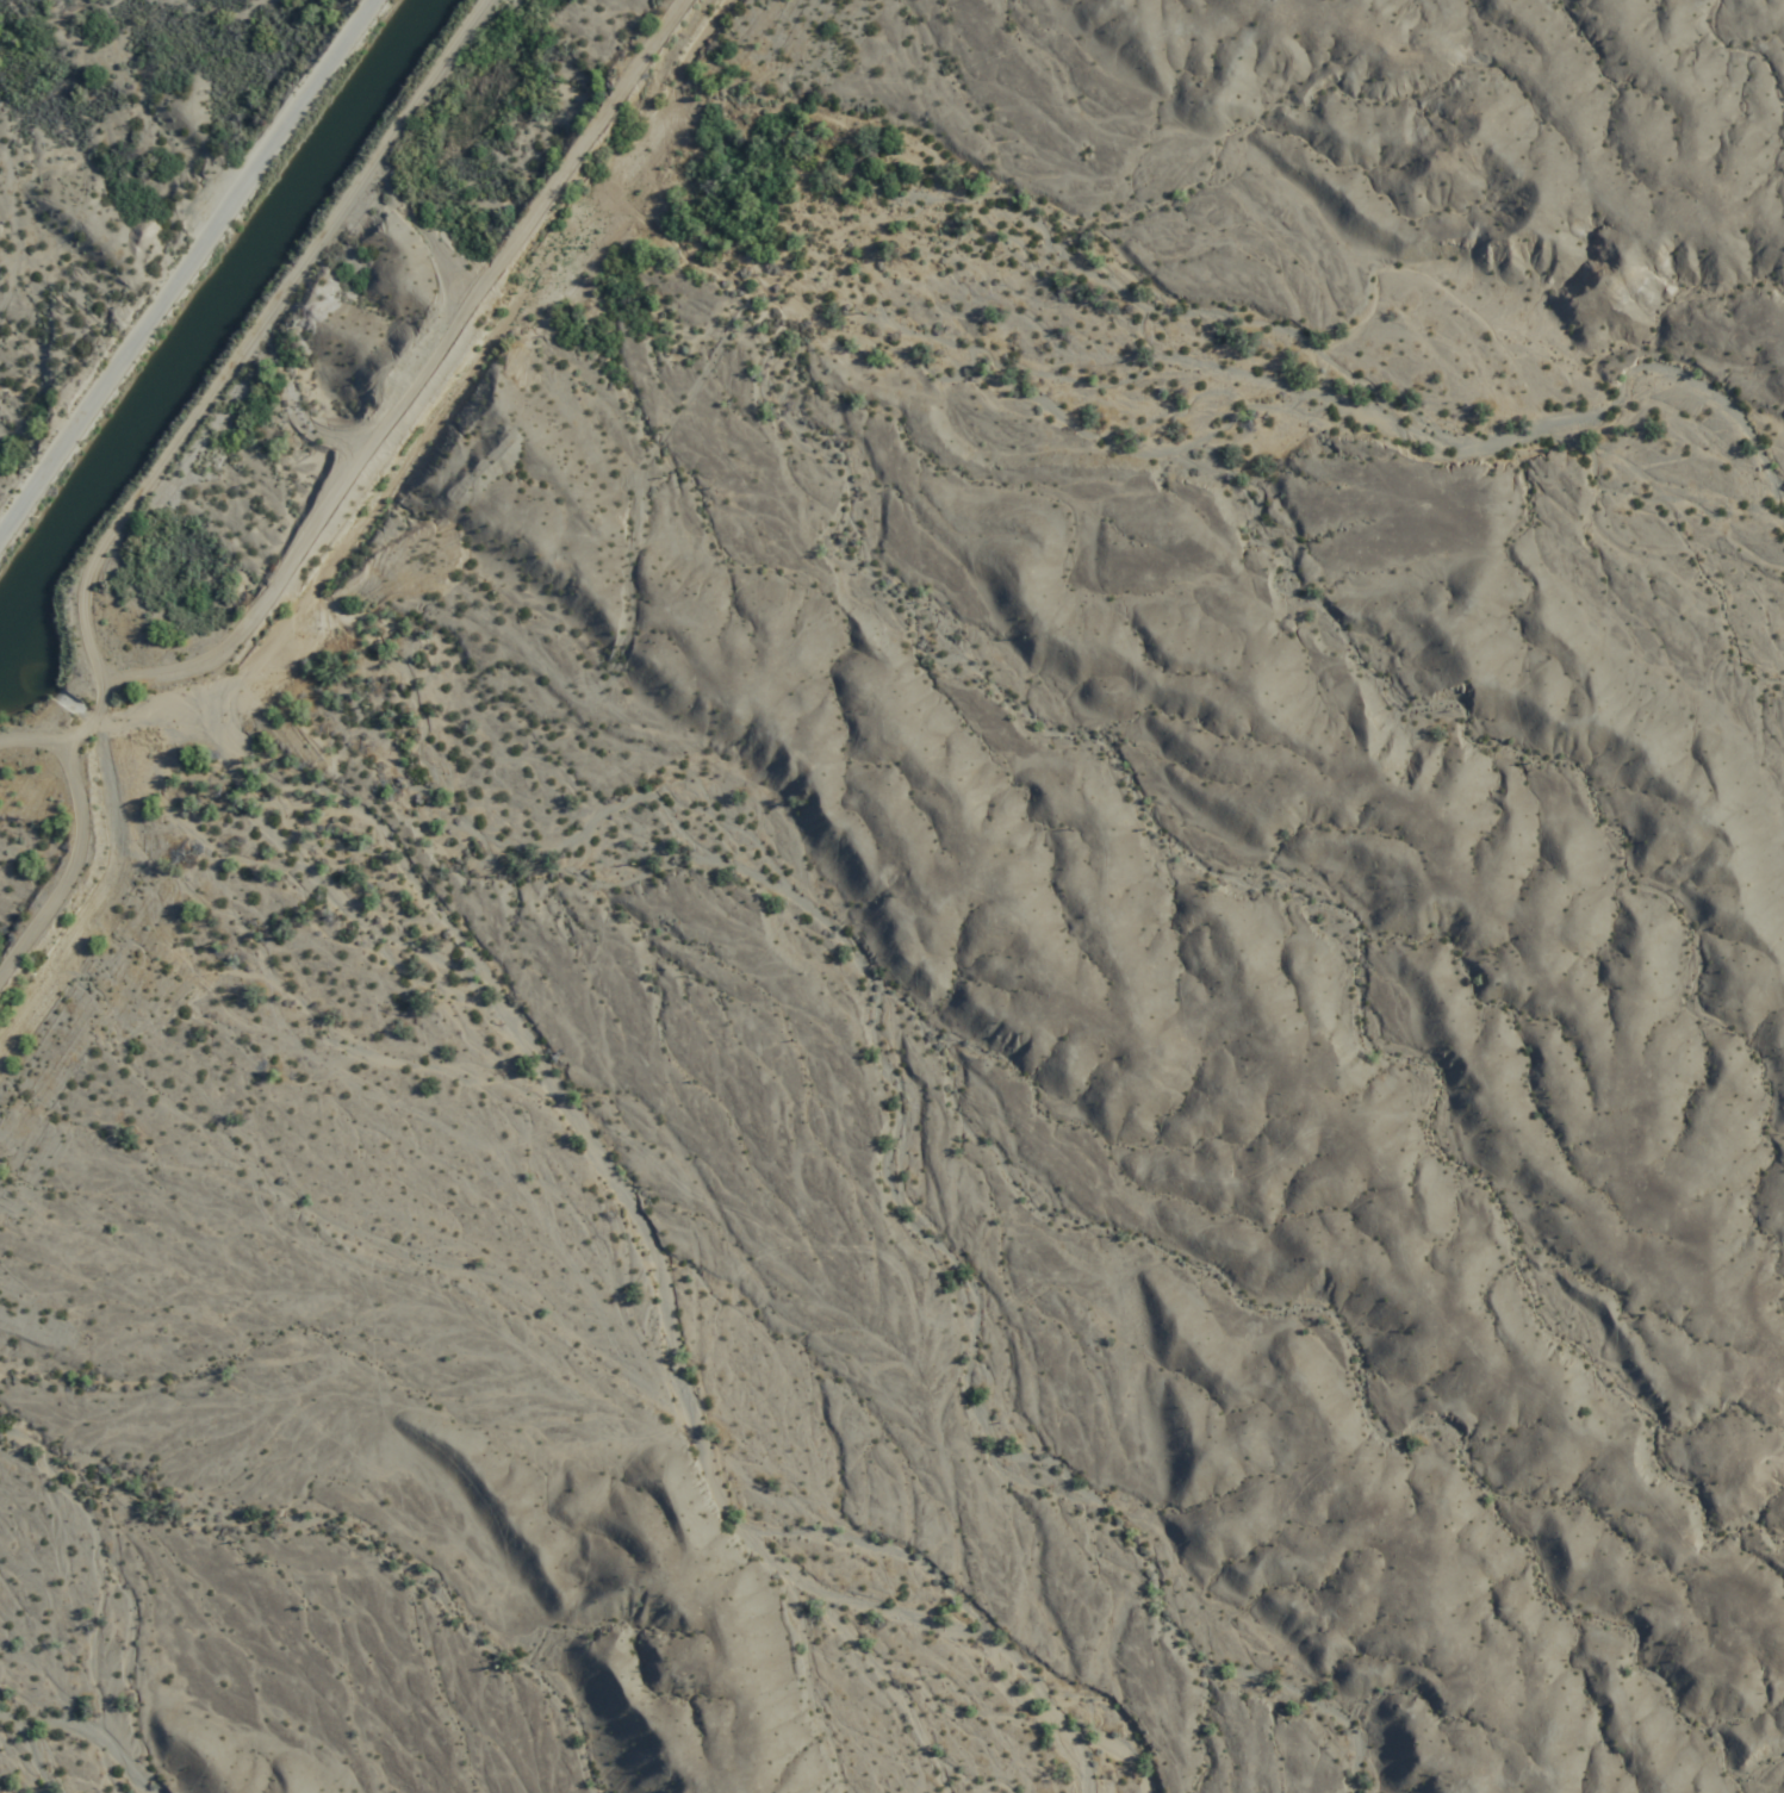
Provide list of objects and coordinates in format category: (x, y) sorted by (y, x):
road: (188, 267)
river: (218, 328)

